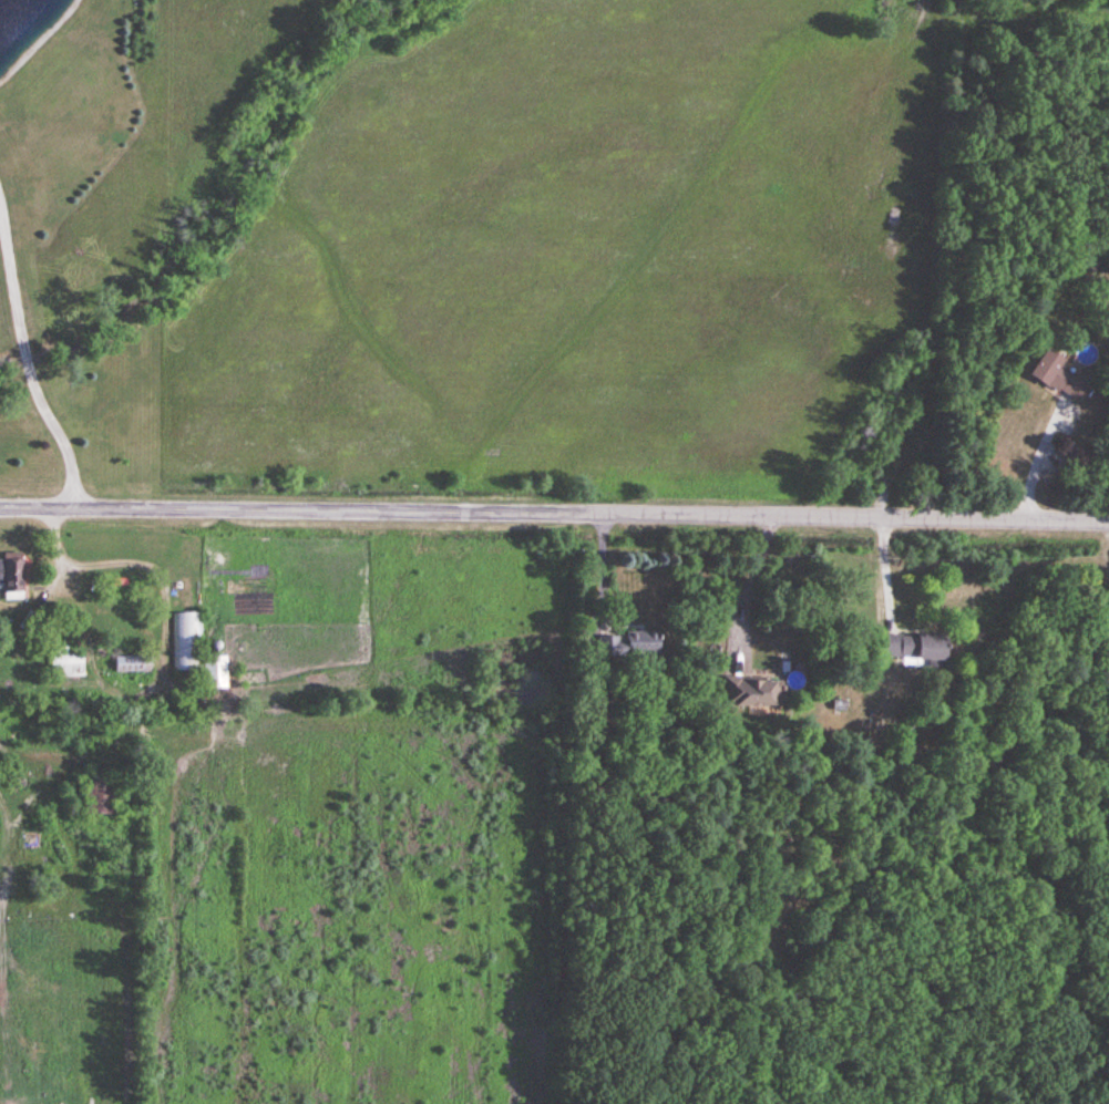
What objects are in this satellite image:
road: (27, 362)
building: (1059, 378)
road: (1040, 455)
road: (554, 513)
building: (11, 575)
road: (749, 589)
building: (628, 644)
building: (913, 648)
building: (195, 650)
building: (65, 664)
building: (132, 664)
building: (752, 691)

